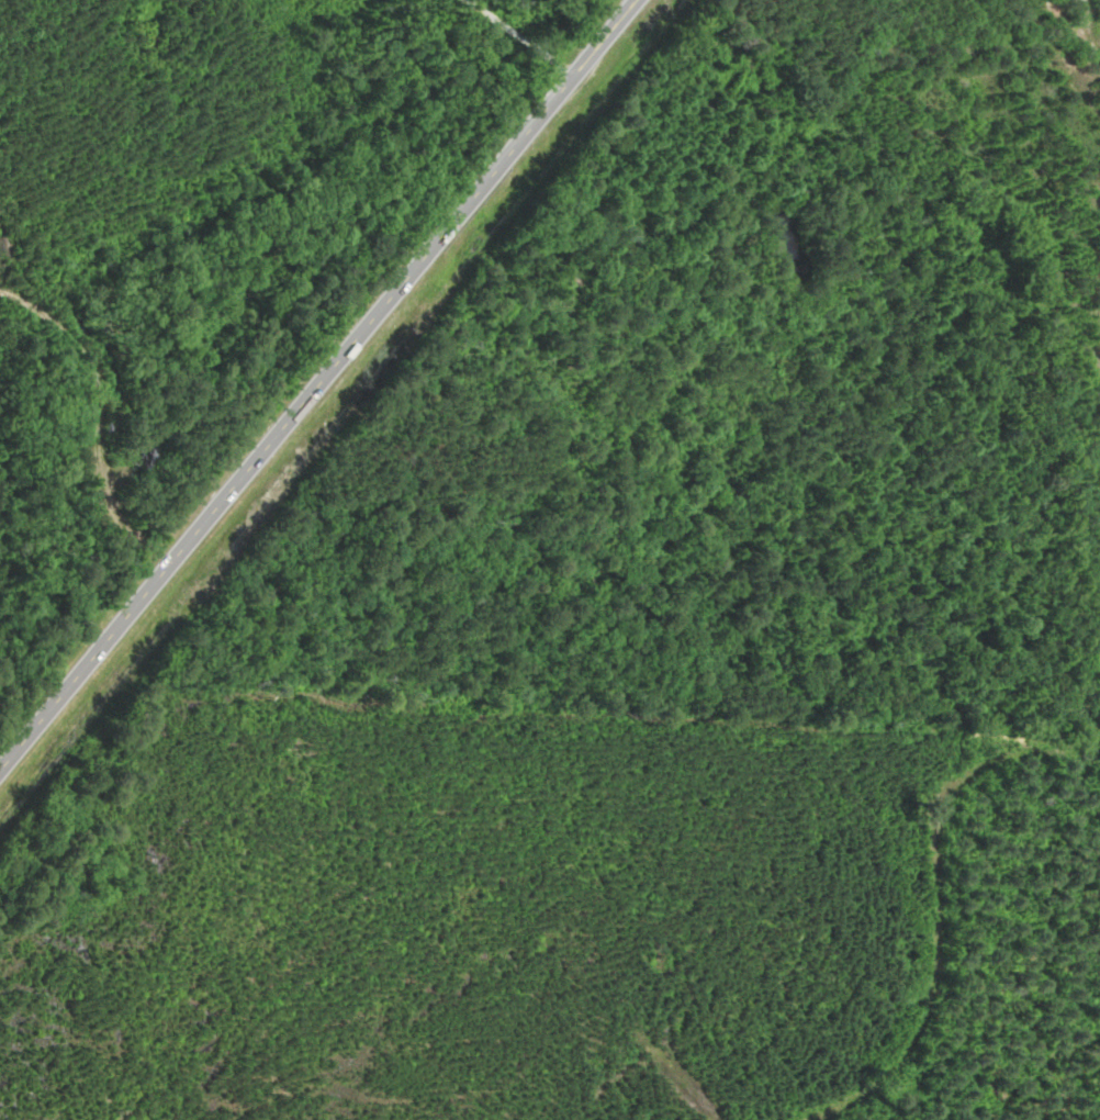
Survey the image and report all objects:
road: (317, 384)

